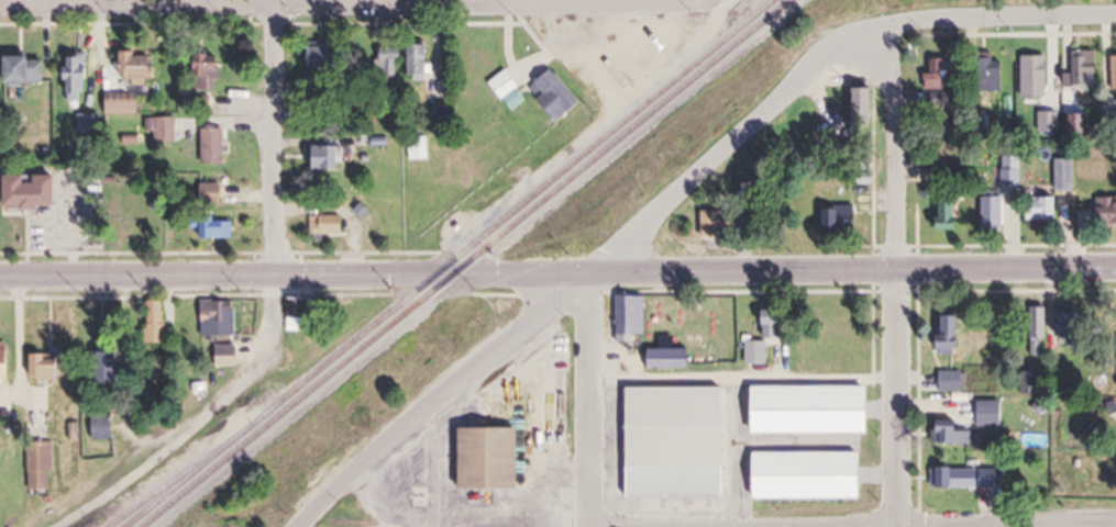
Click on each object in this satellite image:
road: (485, 0)
road: (981, 16)
building: (322, 57)
building: (391, 60)
building: (422, 61)
building: (145, 67)
building: (29, 71)
building: (1080, 71)
building: (212, 72)
building: (933, 75)
building: (1045, 75)
building: (1112, 75)
building: (986, 77)
building: (78, 80)
building: (499, 87)
building: (440, 89)
building: (549, 97)
building: (938, 100)
building: (125, 103)
building: (857, 109)
building: (164, 130)
road: (273, 137)
building: (216, 145)
building: (421, 148)
road: (719, 155)
building: (330, 157)
building: (1062, 177)
building: (1007, 179)
building: (34, 192)
building: (214, 193)
building: (135, 202)
building: (943, 211)
building: (1036, 211)
building: (1103, 213)
building: (987, 214)
building: (835, 222)
building: (328, 224)
building: (707, 226)
building: (217, 227)
railway: (451, 262)
railway: (467, 263)
road: (894, 271)
road: (557, 274)
road: (961, 293)
building: (305, 310)
building: (221, 317)
building: (626, 317)
building: (159, 321)
building: (1034, 333)
building: (942, 336)
building: (751, 355)
building: (229, 356)
building: (7, 359)
building: (661, 361)
building: (47, 366)
building: (112, 367)
road: (742, 381)
building: (949, 382)
building: (1025, 384)
road: (447, 401)
road: (589, 401)
building: (985, 414)
road: (200, 424)
building: (104, 426)
building: (944, 436)
building: (667, 445)
road: (736, 455)
building: (496, 458)
building: (42, 466)
railway: (180, 476)
building: (798, 478)
building: (958, 478)
road: (851, 526)

